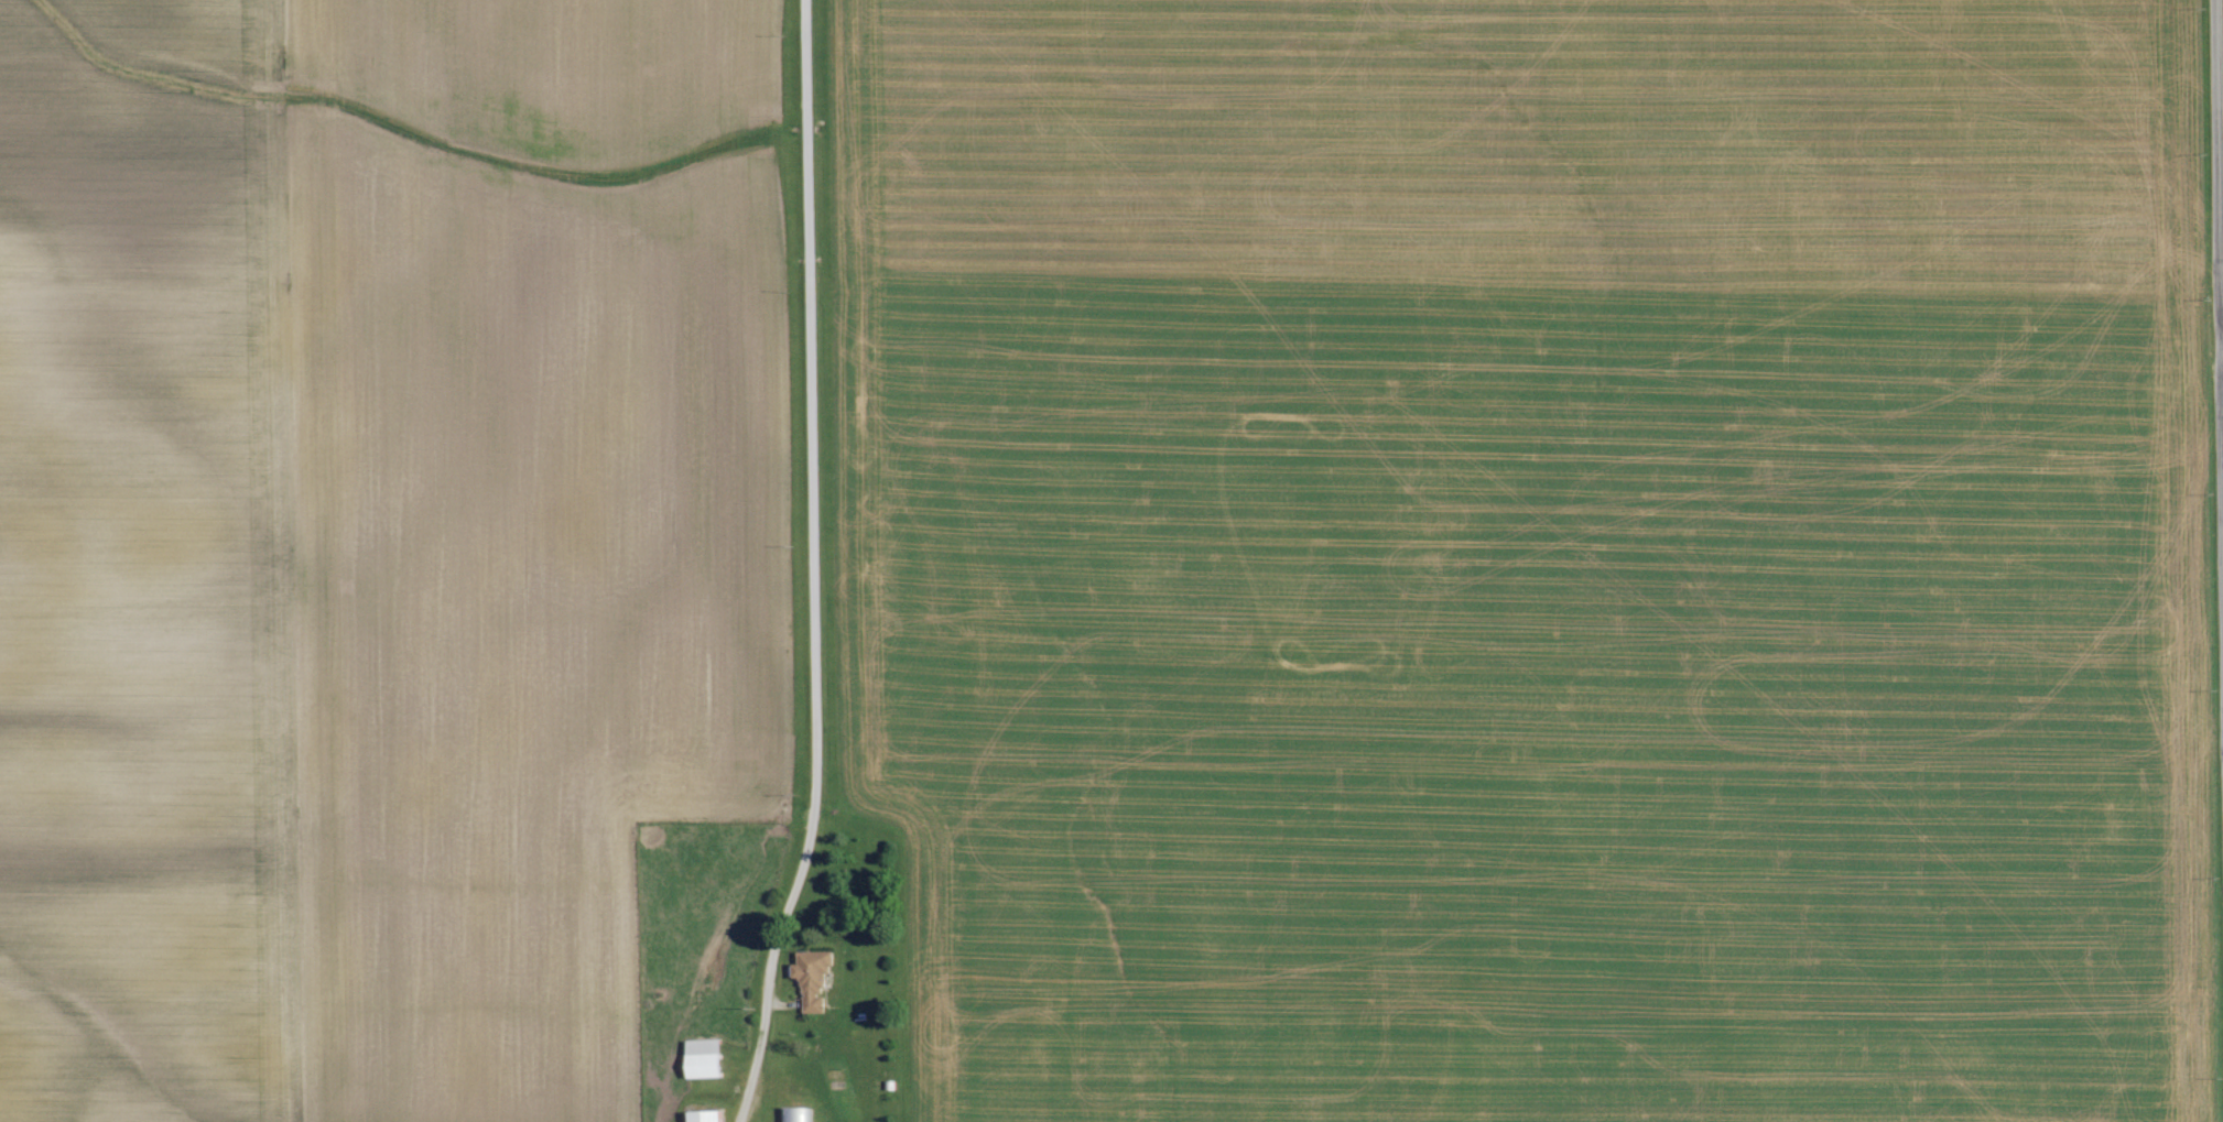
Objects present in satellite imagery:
road: (2220, 339)
road: (2216, 361)
road: (814, 566)
building: (811, 978)
building: (703, 1059)
building: (703, 1116)

